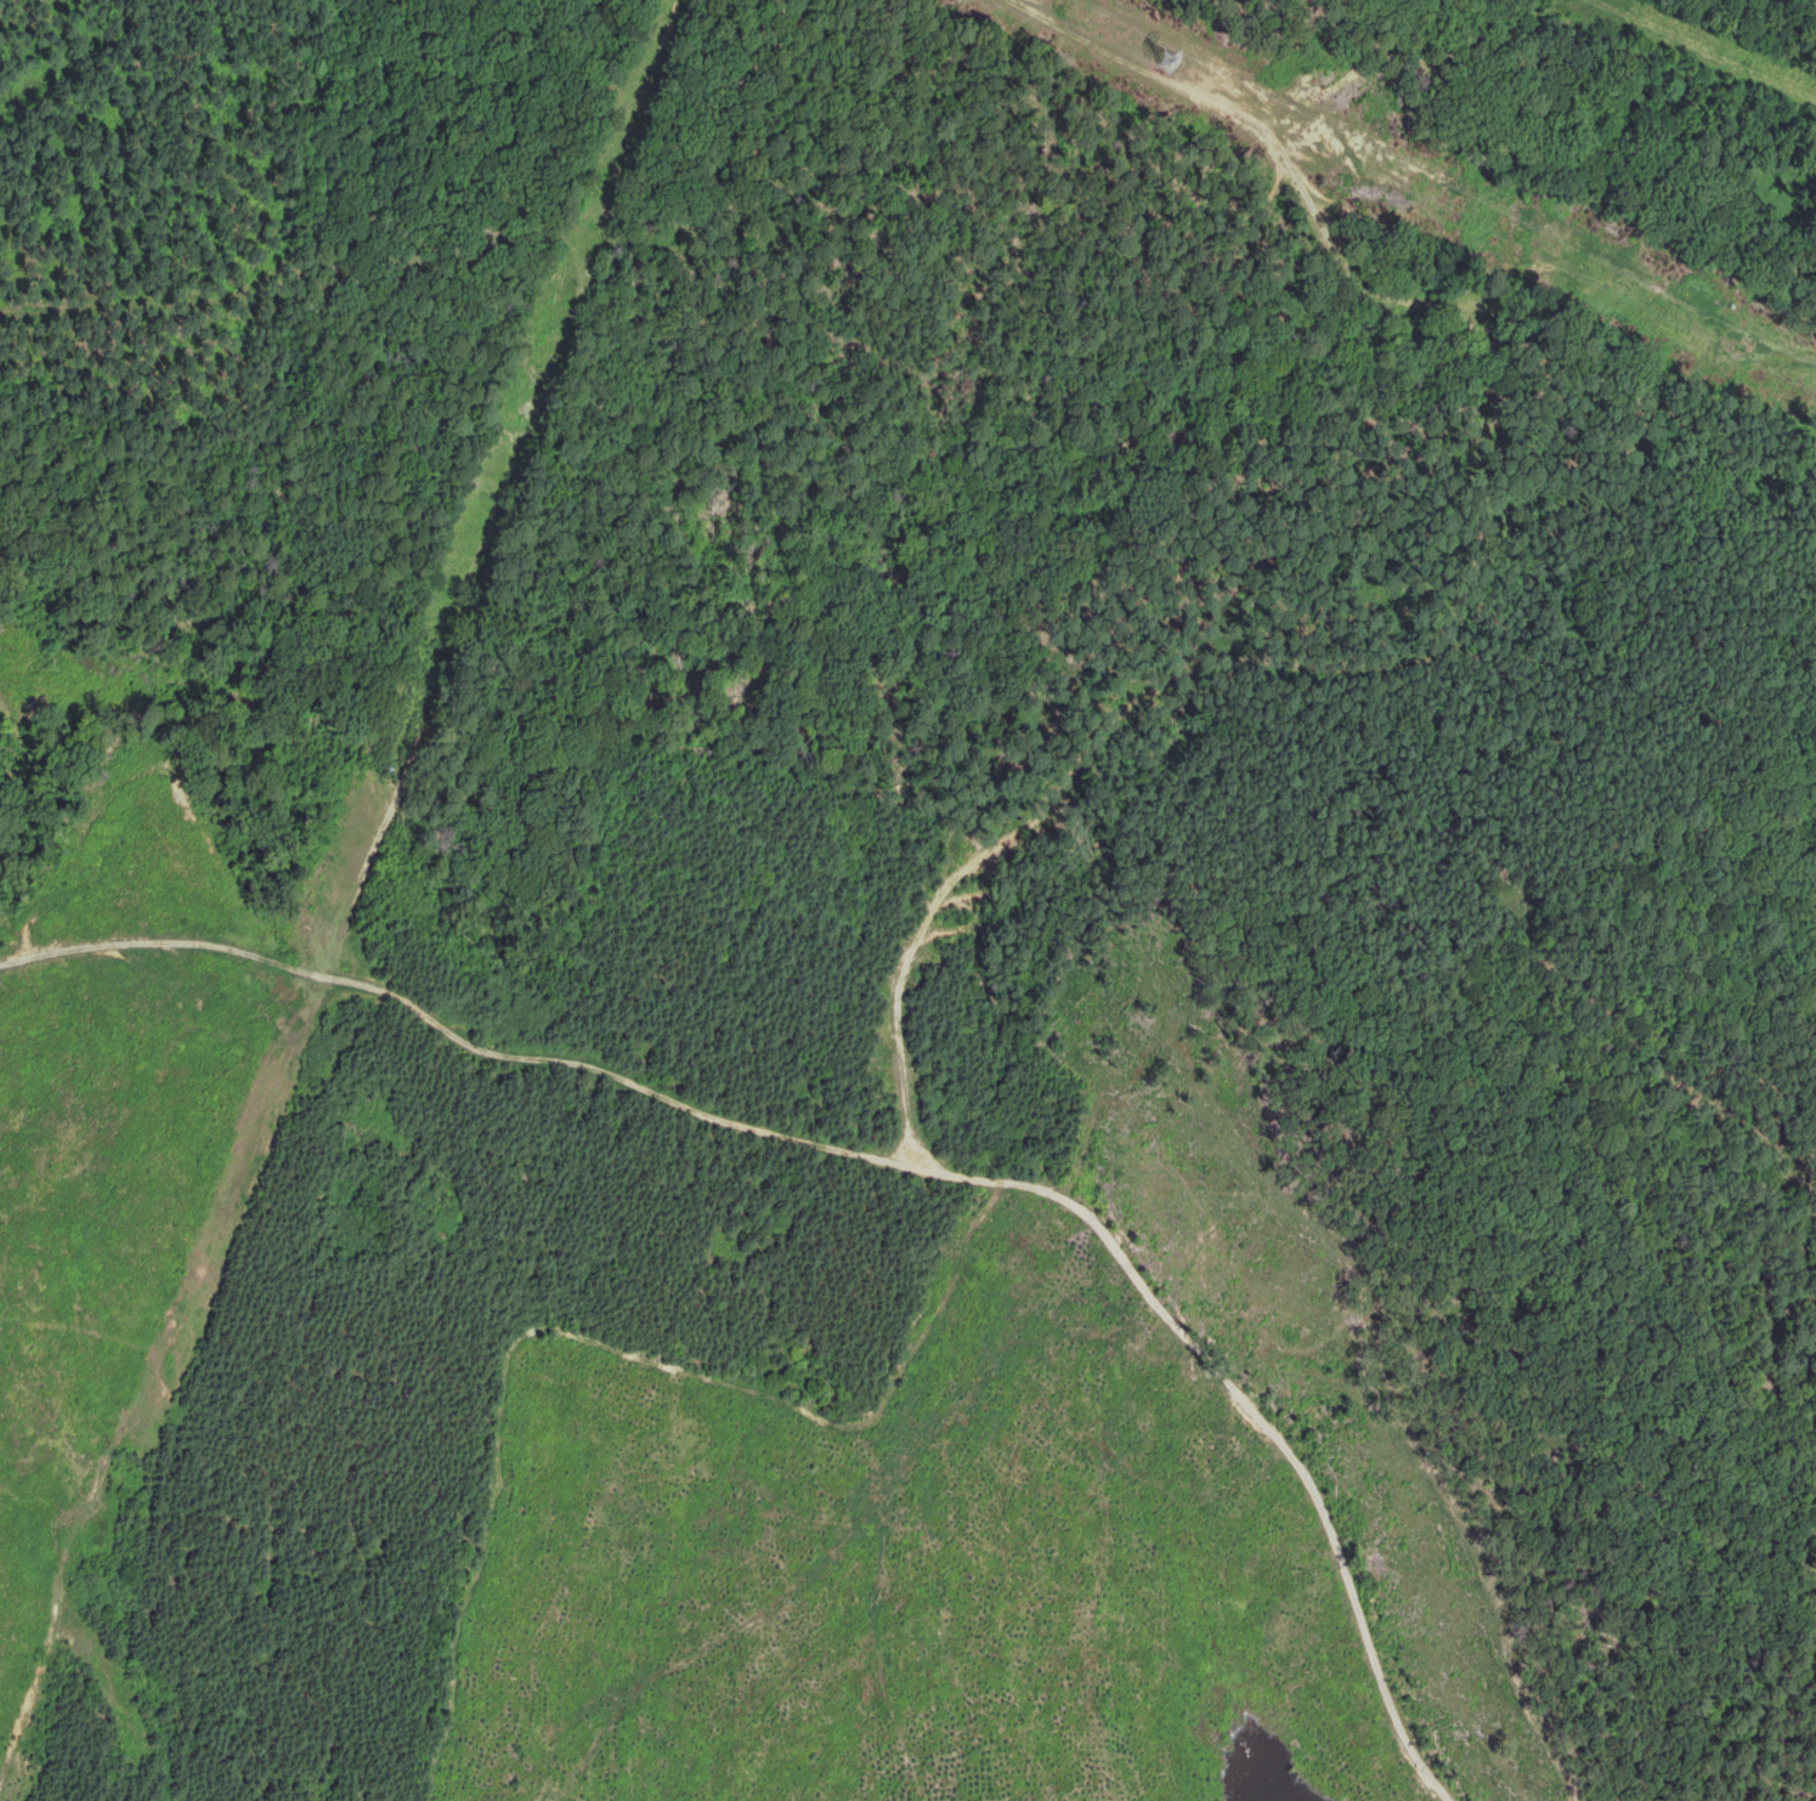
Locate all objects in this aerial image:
power tower: (1165, 62)
road: (935, 1195)

